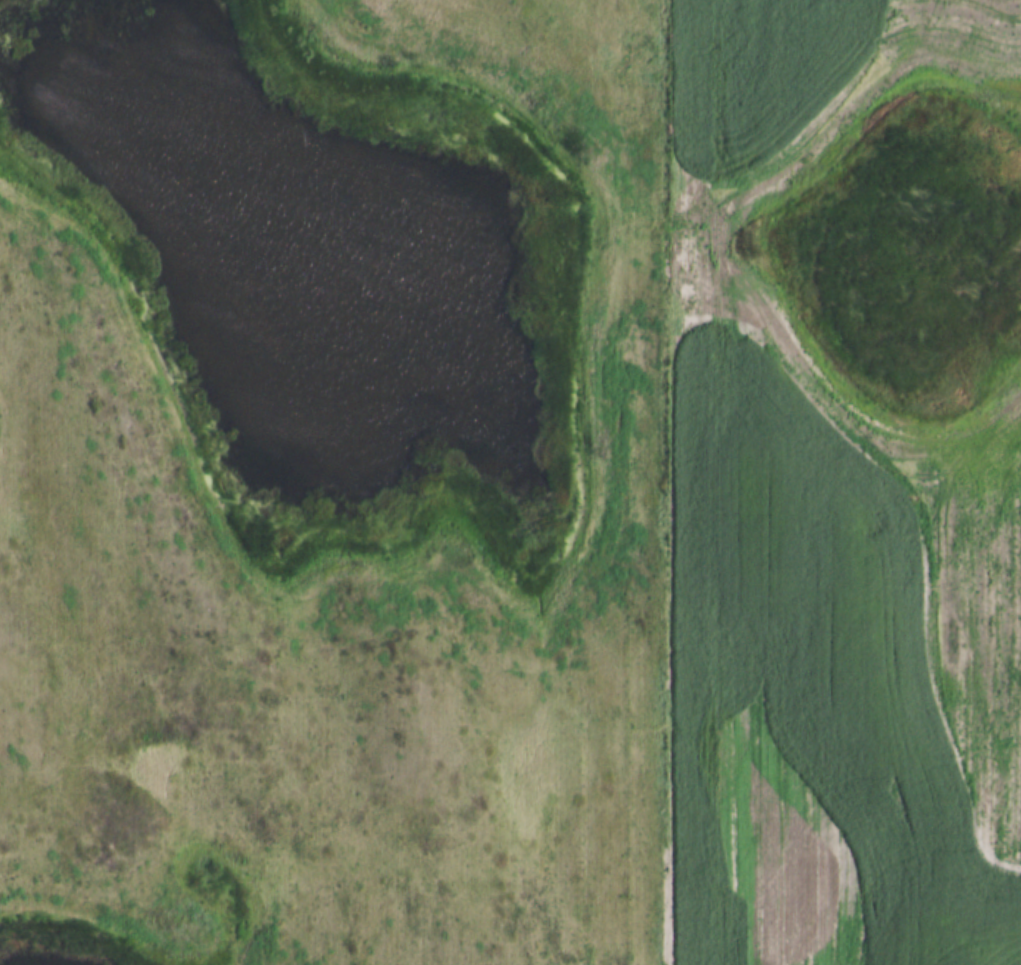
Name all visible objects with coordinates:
road: (656, 482)

